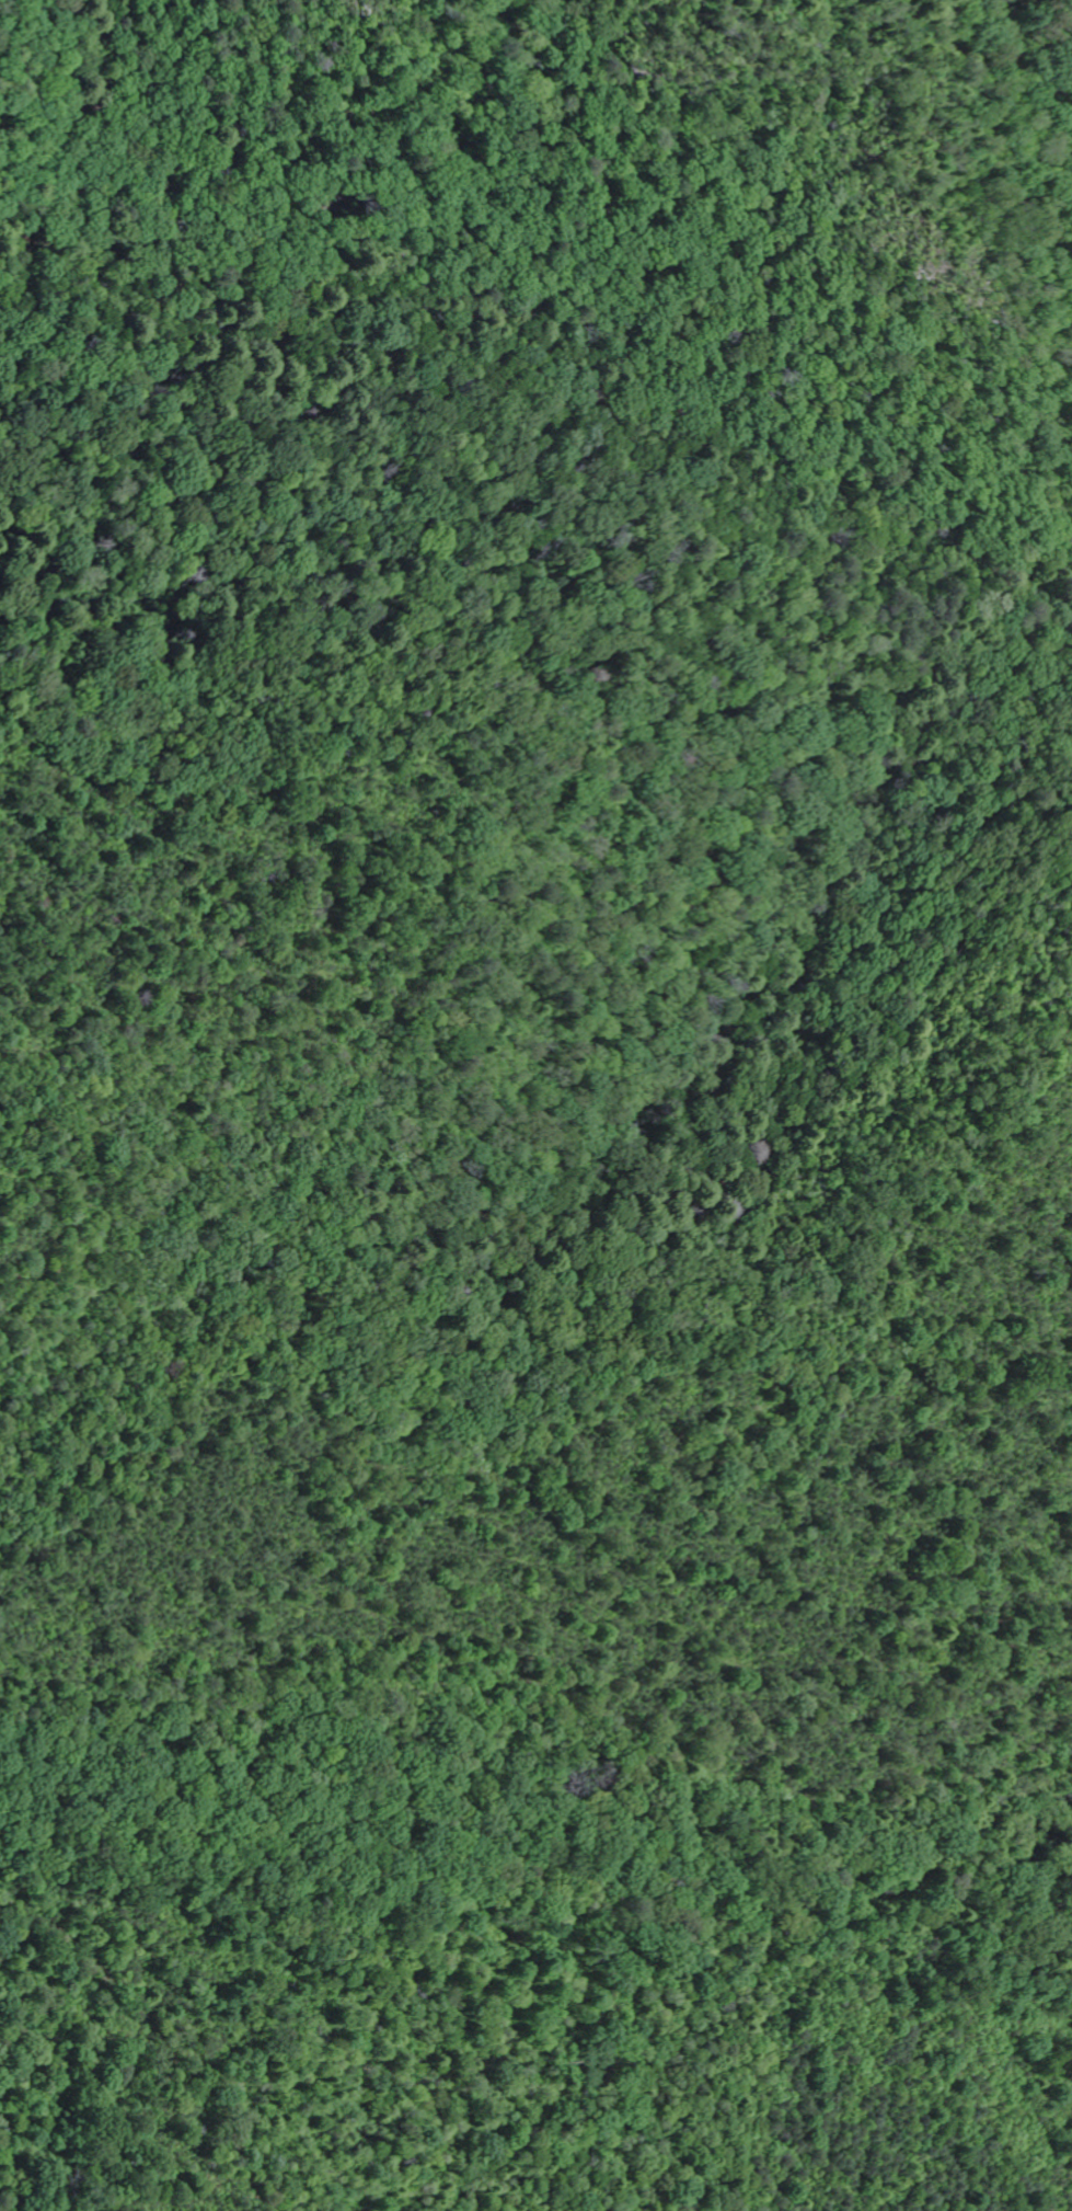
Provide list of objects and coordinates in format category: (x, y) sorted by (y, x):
road: (159, 2032)

